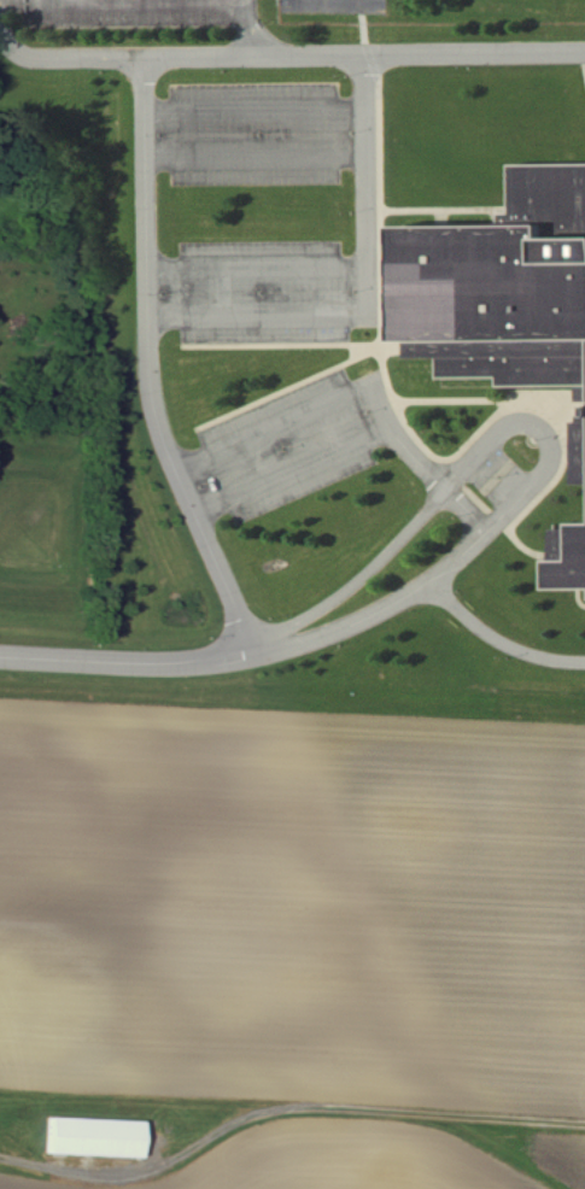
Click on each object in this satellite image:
road: (59, 1)
road: (151, 4)
road: (247, 29)
road: (271, 57)
road: (257, 110)
road: (257, 159)
road: (258, 269)
building: (507, 288)
road: (368, 297)
road: (152, 379)
road: (276, 429)
road: (422, 464)
road: (296, 471)
road: (405, 537)
building: (573, 563)
road: (434, 580)
road: (499, 640)
road: (111, 662)
building: (98, 1137)
road: (111, 1171)

